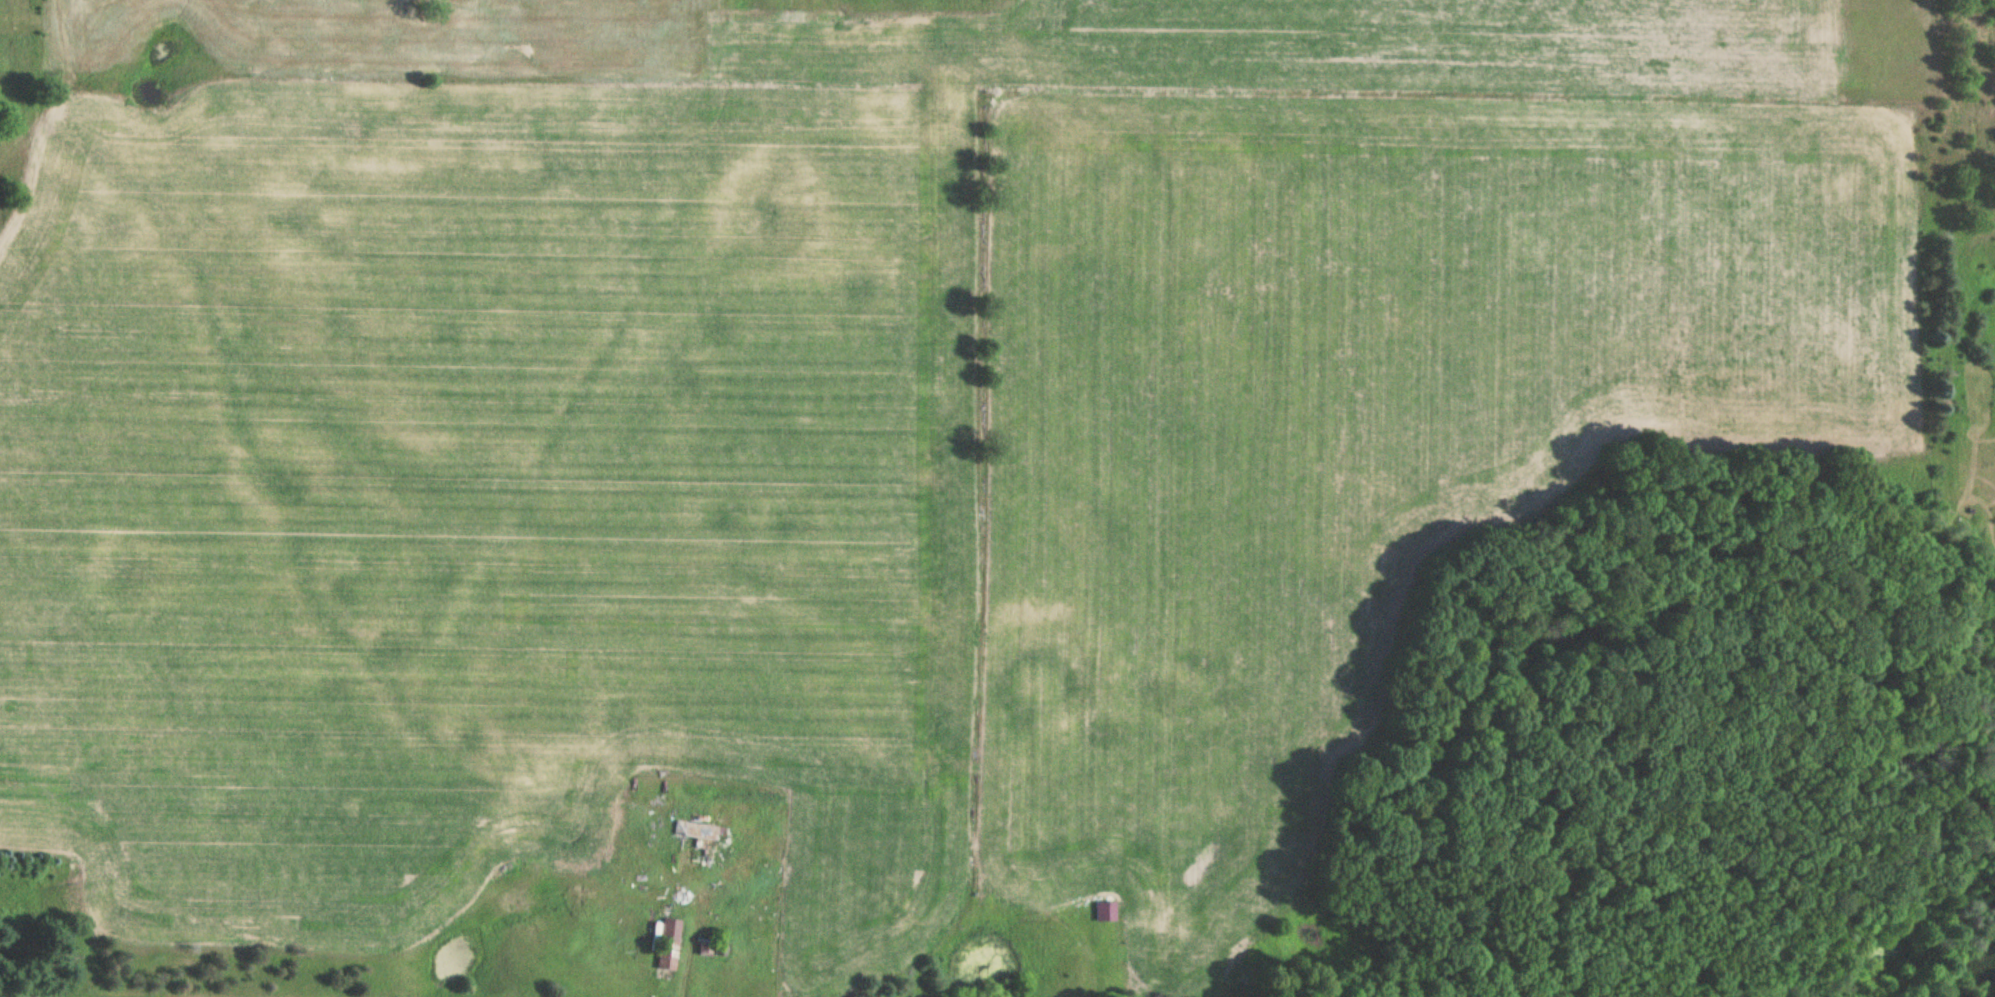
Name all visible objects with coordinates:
building: (701, 841)
building: (1103, 907)
building: (667, 944)
building: (706, 949)

